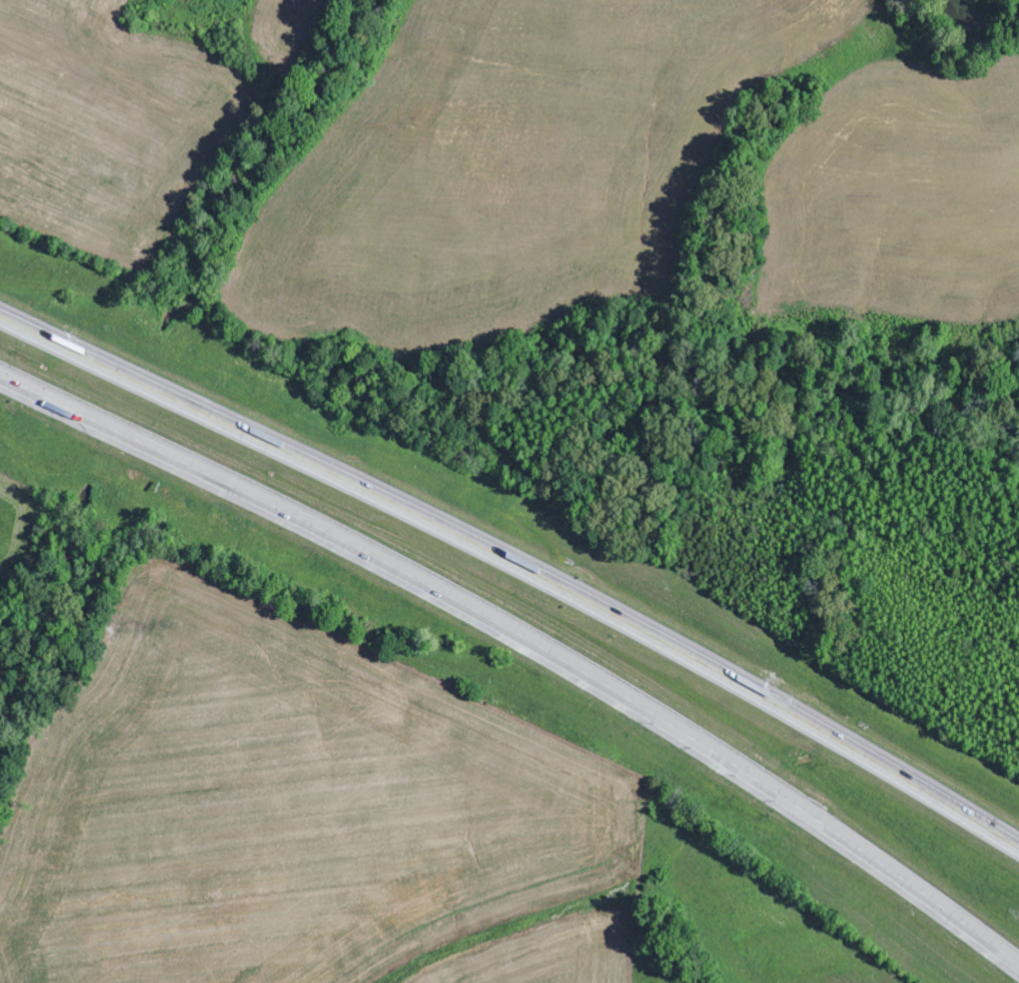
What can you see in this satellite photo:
road: (518, 567)
road: (527, 640)

